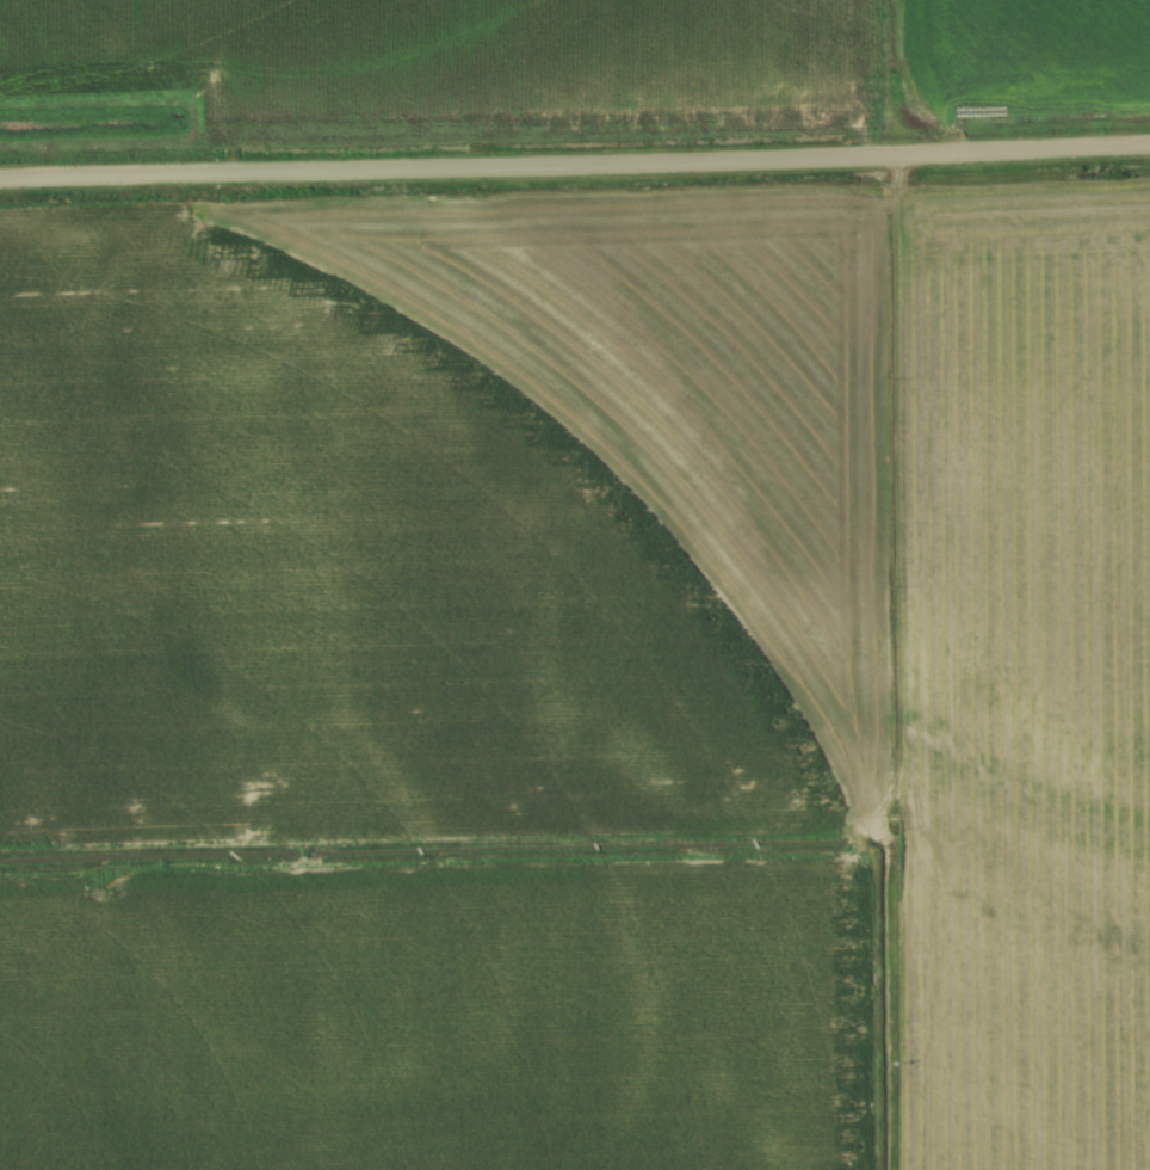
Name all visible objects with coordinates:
crop: (1027, 55)
crop: (463, 64)
road: (575, 165)
crop: (620, 566)
crop: (437, 1022)

